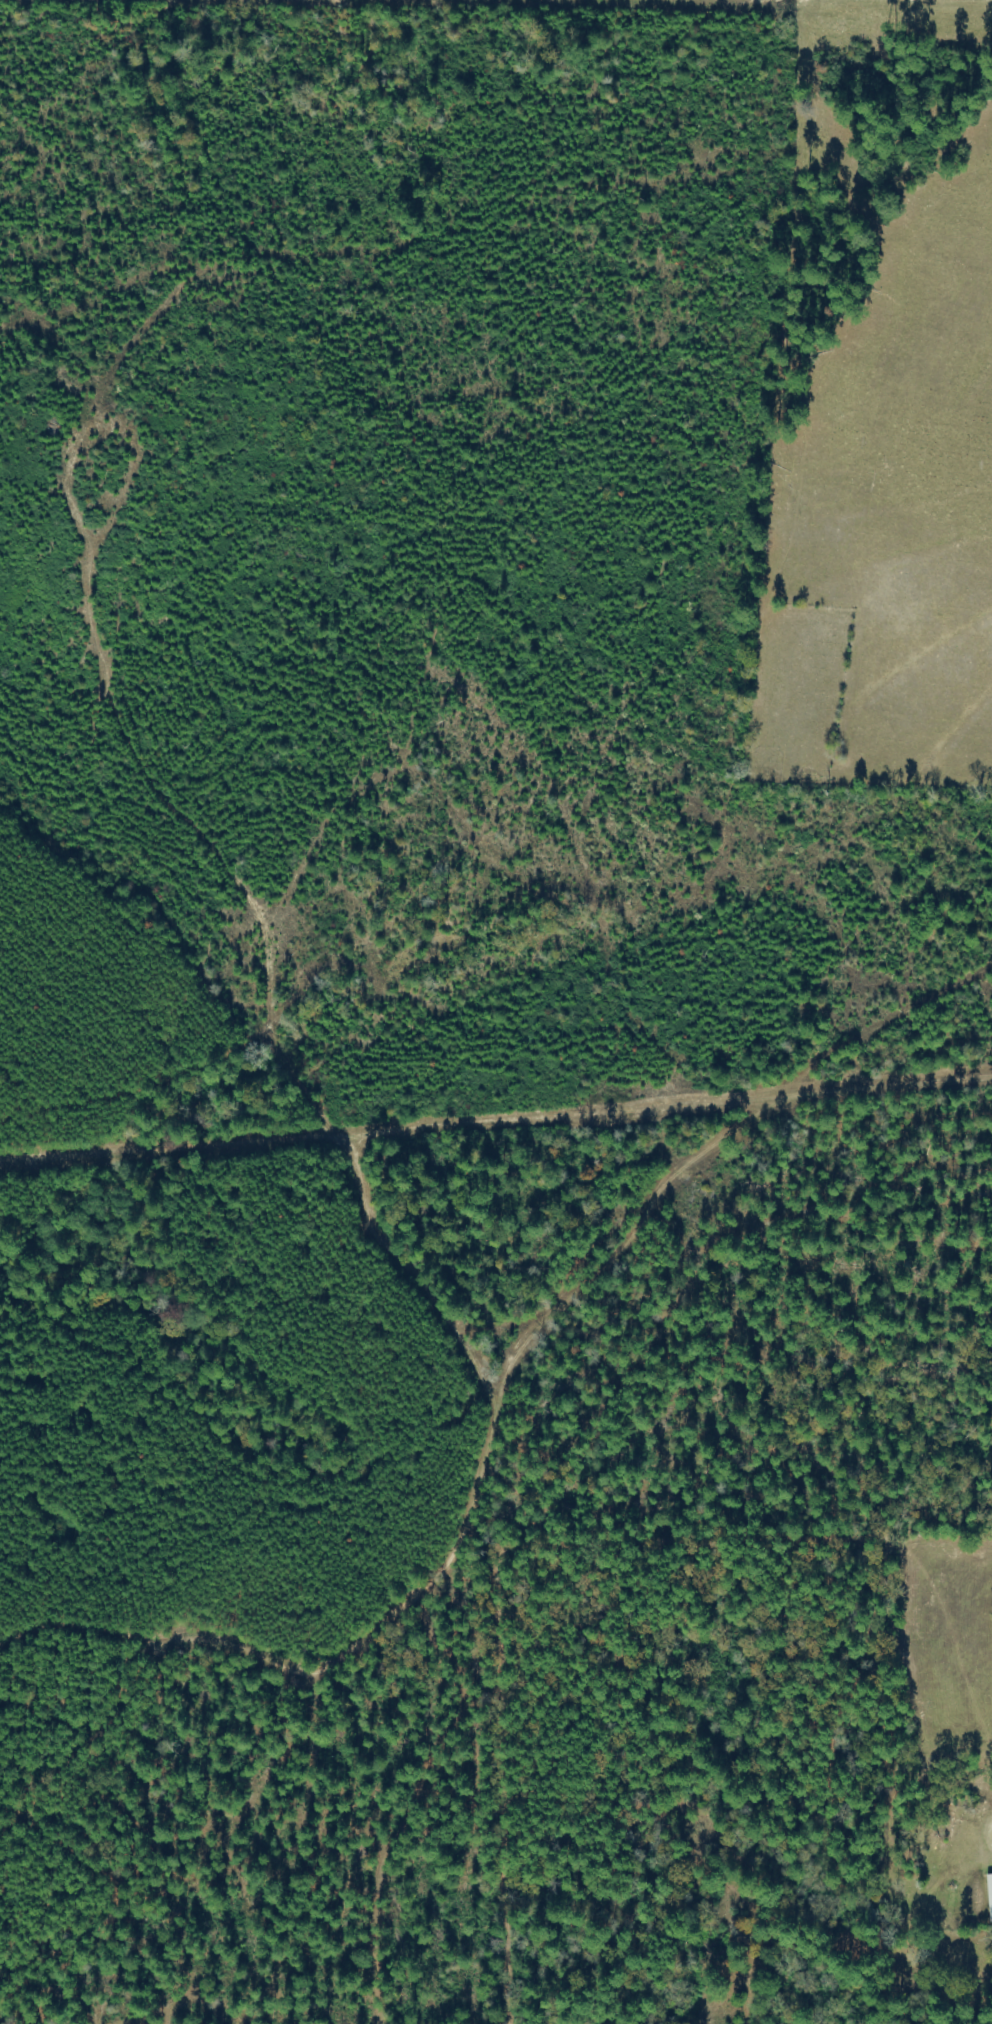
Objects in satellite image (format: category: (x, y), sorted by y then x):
building: (990, 1896)

